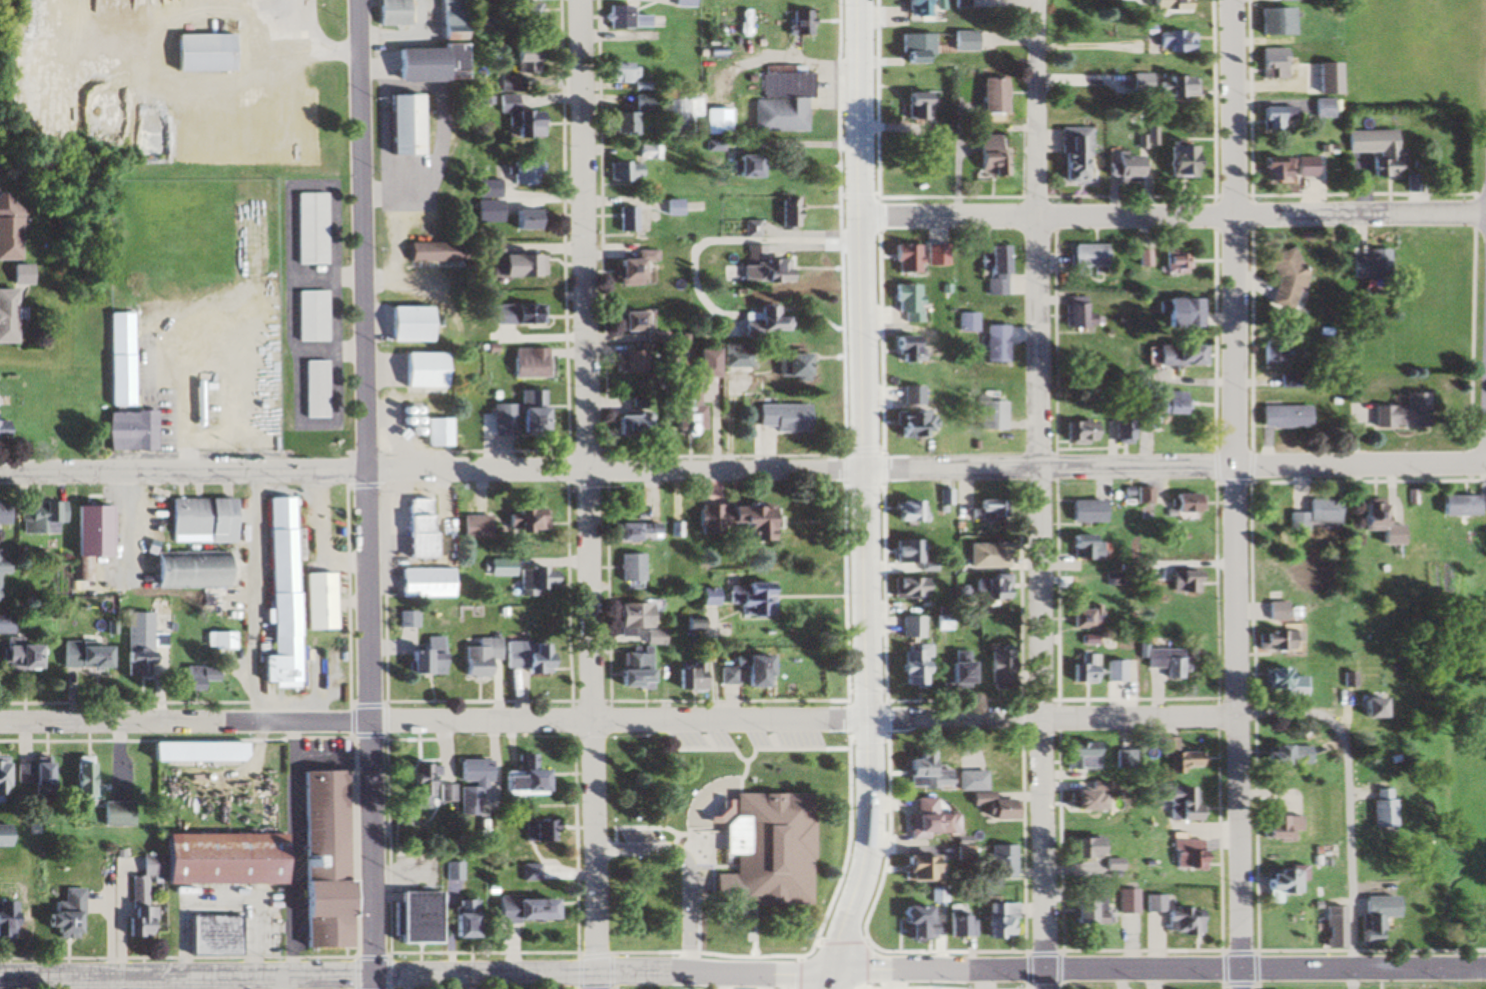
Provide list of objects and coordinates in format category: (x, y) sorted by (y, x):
building: (680, 3)
building: (1163, 6)
building: (913, 7)
building: (392, 12)
building: (522, 13)
building: (449, 17)
building: (623, 19)
building: (1269, 22)
building: (798, 23)
building: (962, 42)
building: (1169, 42)
building: (912, 47)
building: (199, 53)
building: (520, 59)
building: (427, 64)
building: (1268, 68)
building: (619, 76)
building: (1323, 79)
building: (506, 84)
building: (781, 85)
building: (1173, 88)
building: (989, 97)
building: (916, 106)
building: (1320, 109)
building: (678, 116)
building: (778, 116)
building: (624, 118)
building: (519, 119)
building: (1271, 119)
building: (715, 122)
building: (398, 126)
building: (1373, 151)
building: (652, 153)
building: (1070, 156)
building: (987, 157)
building: (1172, 160)
building: (743, 167)
building: (1118, 169)
building: (1282, 169)
building: (619, 172)
building: (522, 174)
building: (487, 189)
building: (669, 208)
road: (1173, 211)
building: (486, 212)
building: (789, 212)
building: (625, 220)
building: (522, 221)
building: (12, 228)
building: (308, 229)
building: (427, 253)
building: (935, 255)
building: (1139, 258)
building: (1084, 259)
building: (902, 260)
building: (1171, 261)
building: (1366, 265)
building: (513, 266)
building: (760, 267)
building: (629, 270)
building: (995, 271)
building: (1278, 280)
building: (905, 302)
building: (1175, 314)
building: (11, 316)
building: (1073, 316)
building: (308, 317)
building: (760, 322)
building: (967, 322)
building: (528, 323)
building: (629, 323)
building: (407, 325)
building: (992, 344)
building: (903, 349)
building: (1269, 352)
building: (1172, 356)
building: (733, 357)
building: (117, 359)
road: (864, 360)
building: (527, 363)
building: (625, 363)
building: (701, 364)
building: (786, 366)
building: (420, 371)
building: (1285, 381)
building: (313, 390)
building: (908, 396)
building: (1171, 403)
building: (1397, 413)
building: (677, 414)
building: (989, 415)
building: (514, 417)
building: (1280, 417)
building: (779, 418)
building: (1143, 418)
building: (908, 425)
building: (625, 427)
building: (3, 429)
building: (126, 431)
building: (1122, 431)
building: (1078, 432)
building: (436, 433)
road: (1263, 463)
road: (954, 464)
road: (433, 470)
road: (365, 494)
road: (589, 494)
road: (1041, 494)
building: (1143, 494)
road: (1233, 494)
building: (944, 496)
building: (1457, 504)
building: (1182, 507)
building: (987, 509)
building: (907, 510)
building: (1085, 510)
building: (1, 515)
building: (1314, 515)
building: (39, 517)
building: (522, 519)
building: (199, 520)
building: (738, 520)
building: (1373, 520)
building: (472, 526)
building: (416, 527)
building: (87, 530)
building: (676, 530)
building: (634, 531)
building: (306, 546)
building: (1084, 546)
building: (902, 550)
building: (986, 555)
building: (628, 568)
building: (185, 569)
building: (528, 577)
building: (1115, 579)
building: (1182, 581)
building: (422, 582)
building: (908, 587)
building: (988, 587)
building: (277, 595)
building: (704, 596)
building: (748, 598)
building: (314, 600)
building: (1273, 611)
building: (1081, 617)
building: (403, 618)
building: (633, 622)
building: (5, 624)
building: (911, 626)
building: (219, 640)
building: (1275, 641)
building: (136, 651)
building: (17, 656)
building: (81, 656)
building: (526, 656)
building: (424, 657)
building: (477, 658)
building: (1161, 662)
building: (910, 665)
building: (995, 667)
building: (955, 668)
building: (631, 669)
building: (1081, 669)
building: (743, 670)
building: (1112, 671)
building: (688, 676)
building: (194, 677)
building: (1346, 679)
building: (1282, 682)
building: (1369, 706)
road: (1052, 715)
road: (434, 720)
building: (215, 751)
building: (1078, 755)
building: (1283, 755)
building: (1122, 759)
building: (1176, 759)
building: (921, 772)
building: (30, 774)
building: (1, 775)
building: (519, 777)
building: (78, 779)
building: (415, 779)
building: (968, 781)
building: (466, 787)
road: (1348, 795)
building: (1077, 799)
building: (1180, 803)
building: (990, 806)
building: (1377, 807)
building: (114, 813)
building: (922, 818)
building: (1276, 828)
building: (537, 831)
building: (4, 835)
park: (727, 844)
building: (1082, 848)
building: (1326, 851)
building: (1185, 854)
road: (867, 858)
building: (319, 860)
building: (997, 861)
building: (1109, 864)
building: (909, 868)
building: (760, 869)
road: (685, 870)
building: (527, 873)
building: (447, 874)
building: (1278, 880)
building: (1123, 901)
building: (137, 908)
building: (525, 909)
building: (1084, 910)
building: (62, 916)
building: (1170, 916)
building: (1372, 916)
flagpole: (353, 917)
building: (1, 918)
building: (409, 918)
building: (995, 919)
building: (459, 920)
building: (956, 921)
building: (911, 922)
building: (1331, 927)
building: (209, 935)
road: (1255, 949)
road: (450, 953)
road: (1363, 968)
road: (620, 972)
road: (1352, 978)

